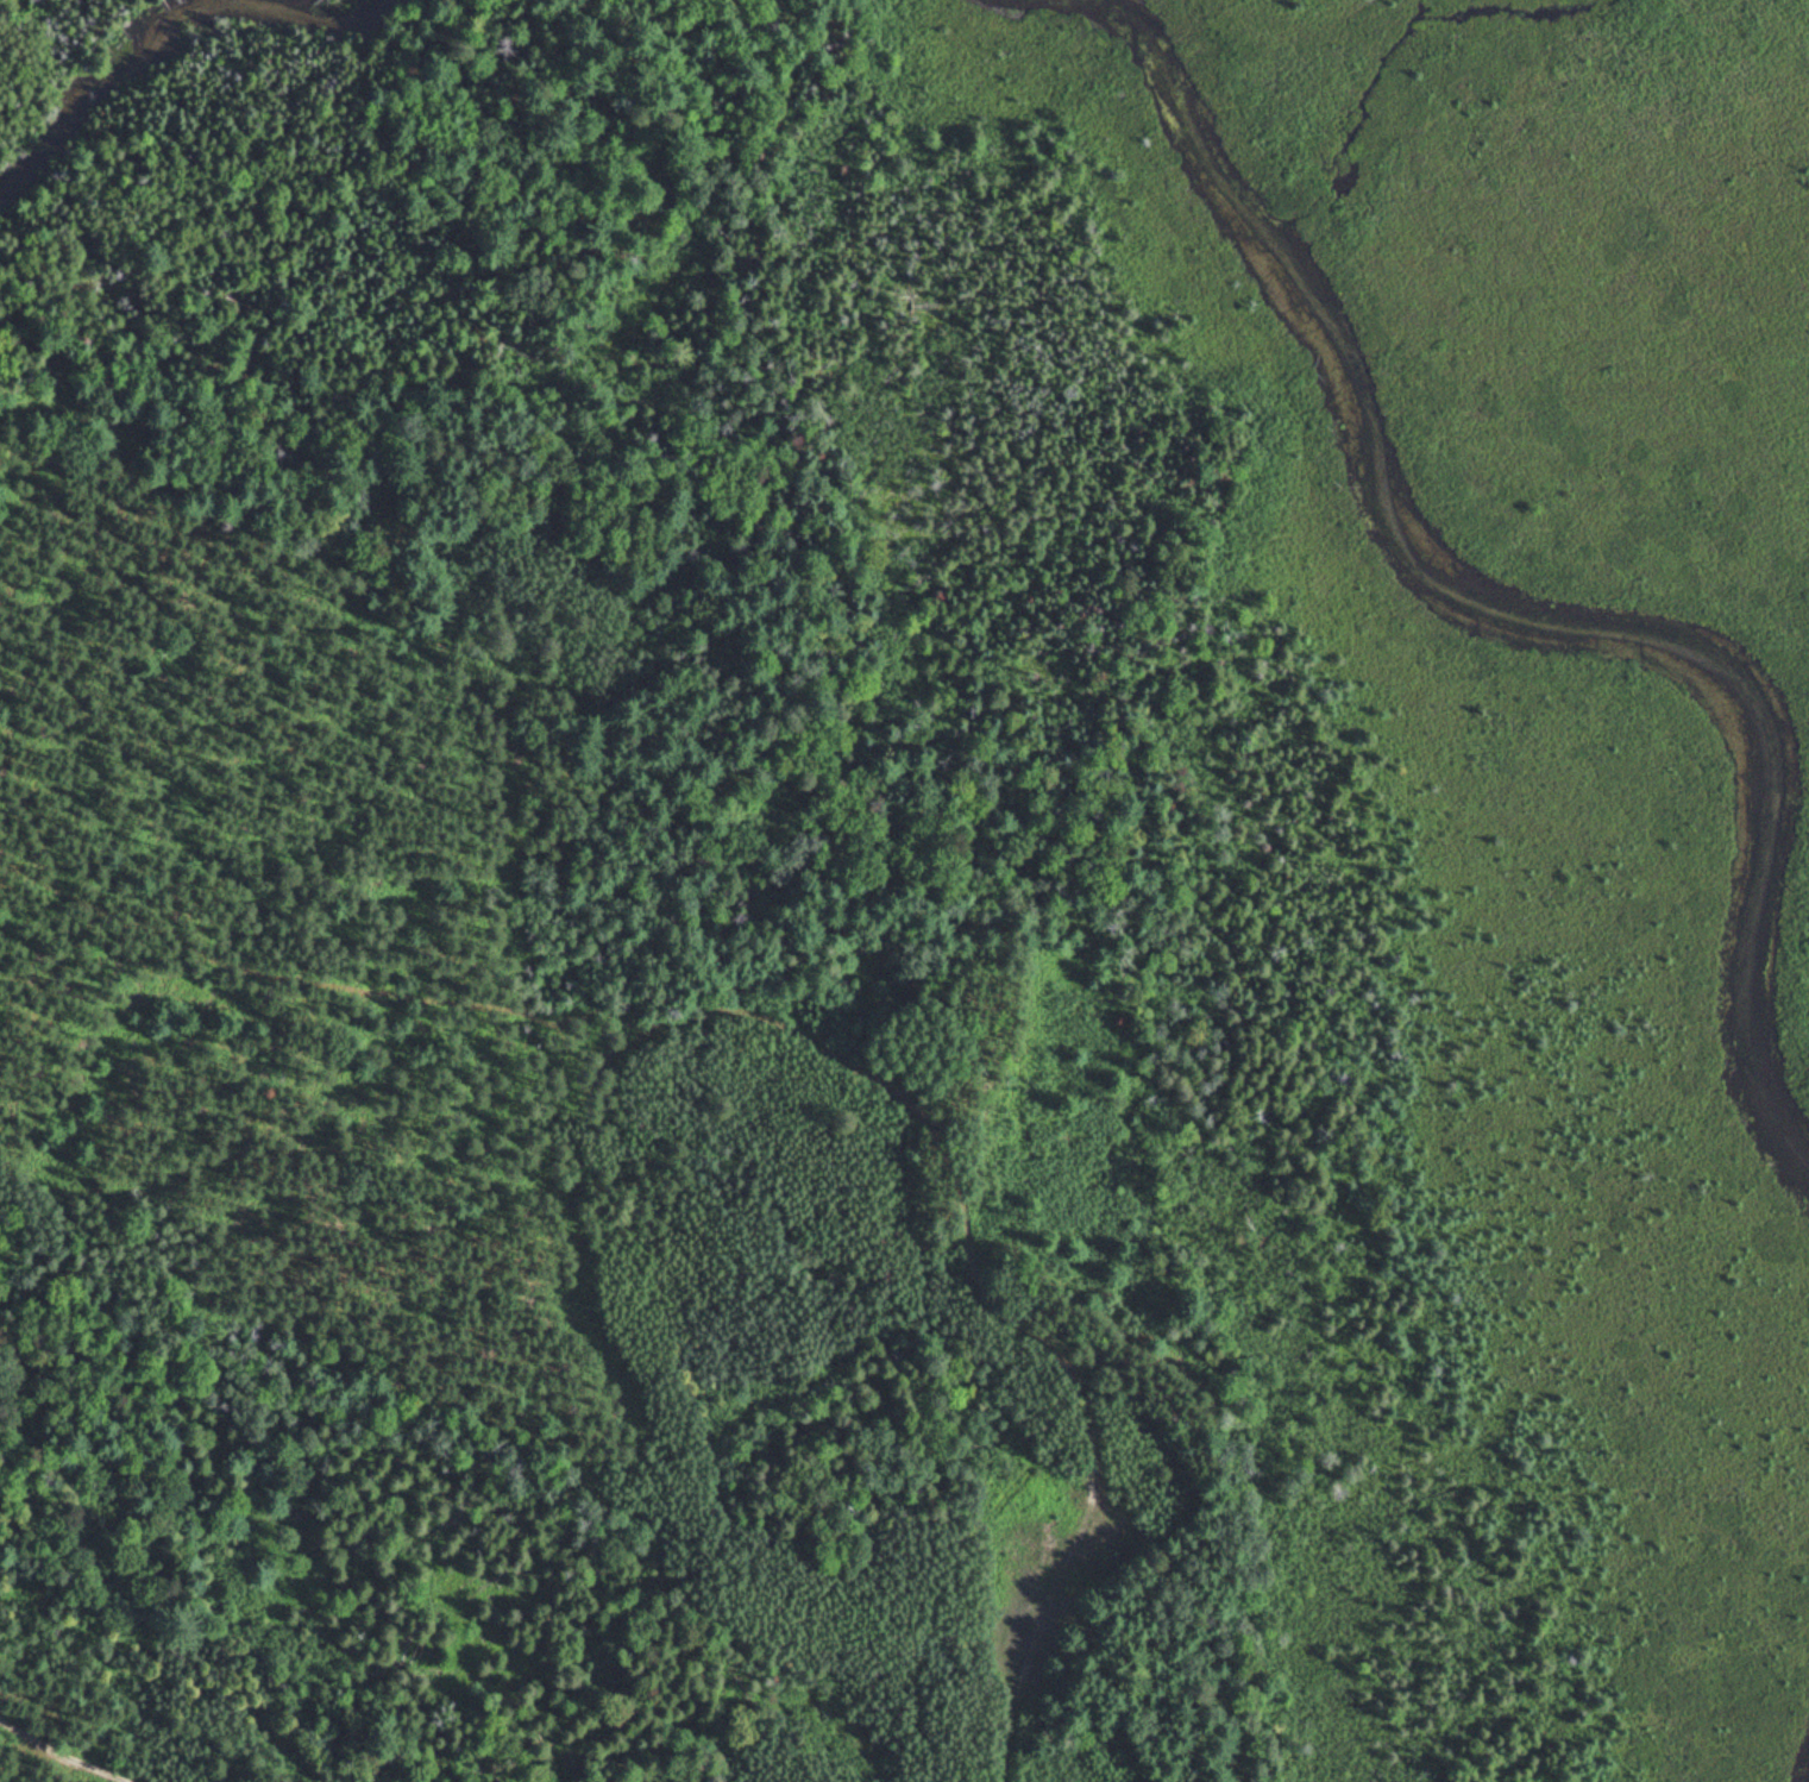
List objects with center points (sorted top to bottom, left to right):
road: (73, 1745)

